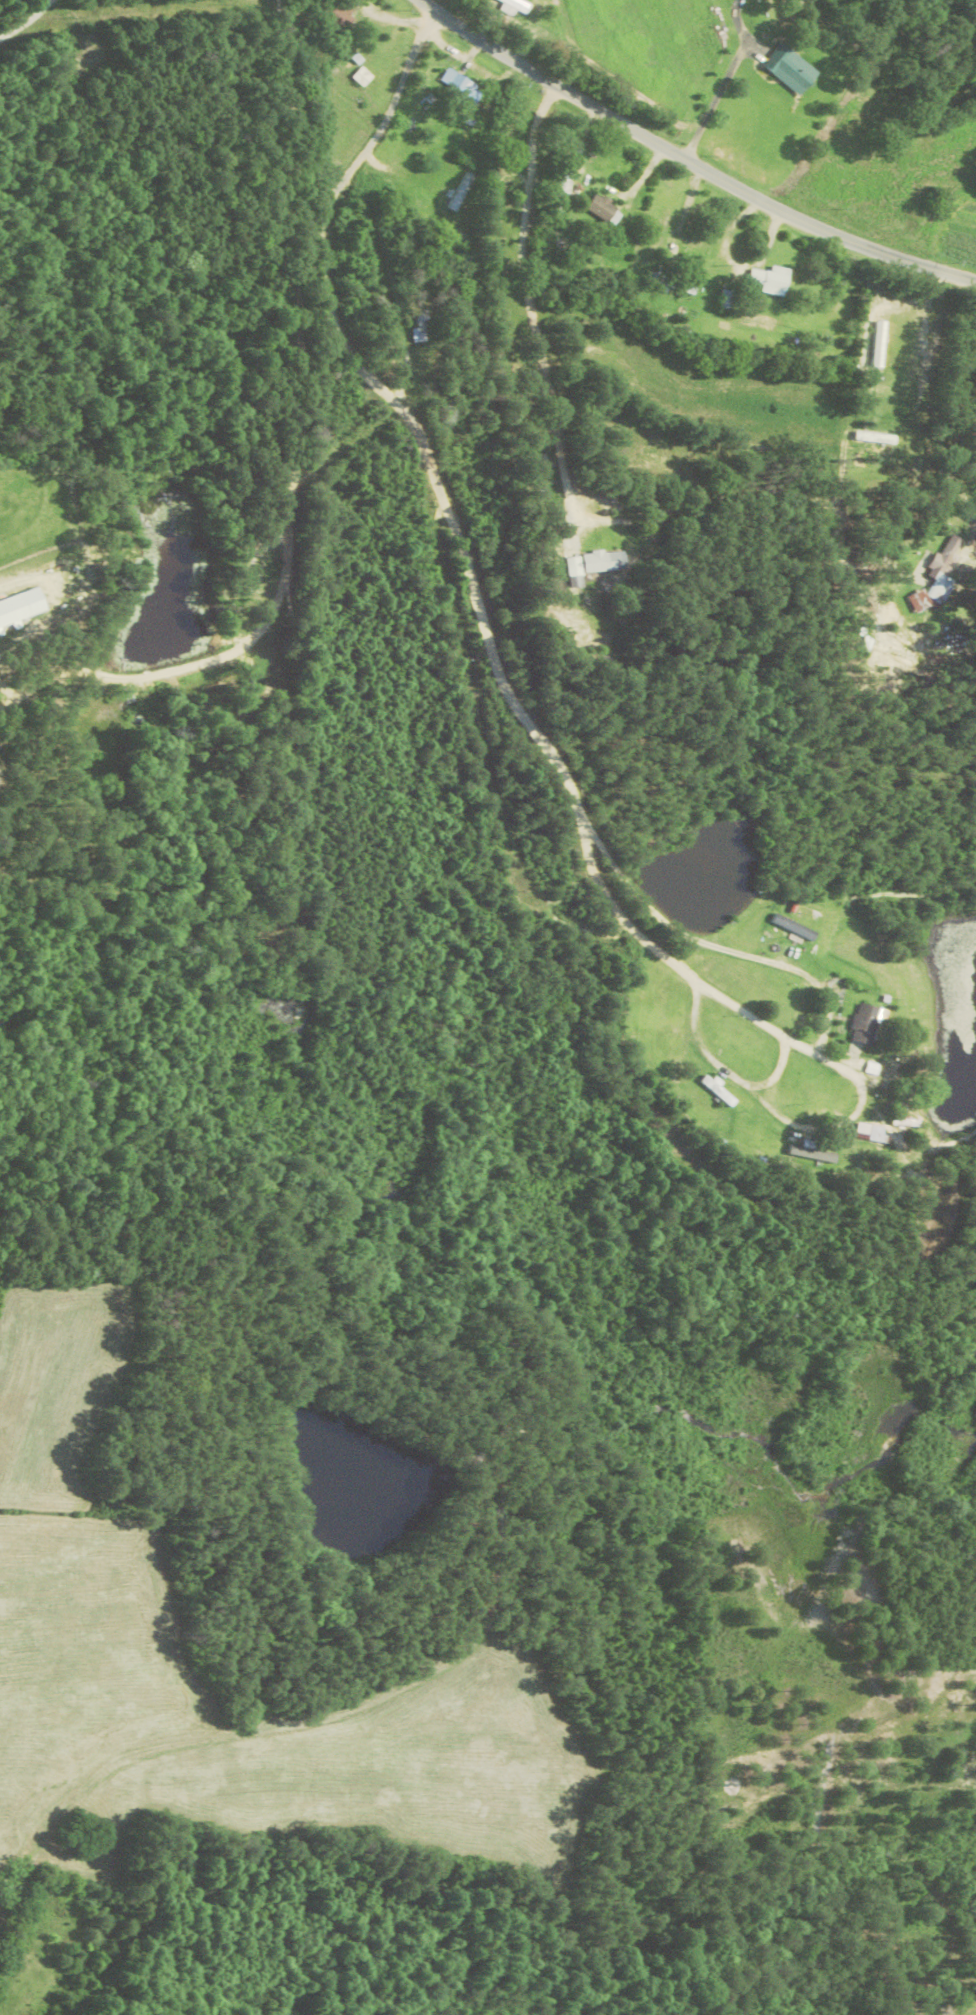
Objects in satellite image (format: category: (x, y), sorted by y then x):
road: (24, 19)
building: (791, 69)
building: (362, 76)
building: (466, 91)
road: (715, 97)
road: (689, 159)
building: (462, 191)
building: (603, 207)
building: (500, 232)
building: (772, 280)
building: (877, 349)
road: (434, 352)
road: (723, 372)
building: (602, 561)
building: (576, 572)
building: (861, 1025)
building: (868, 1134)
building: (809, 1155)

